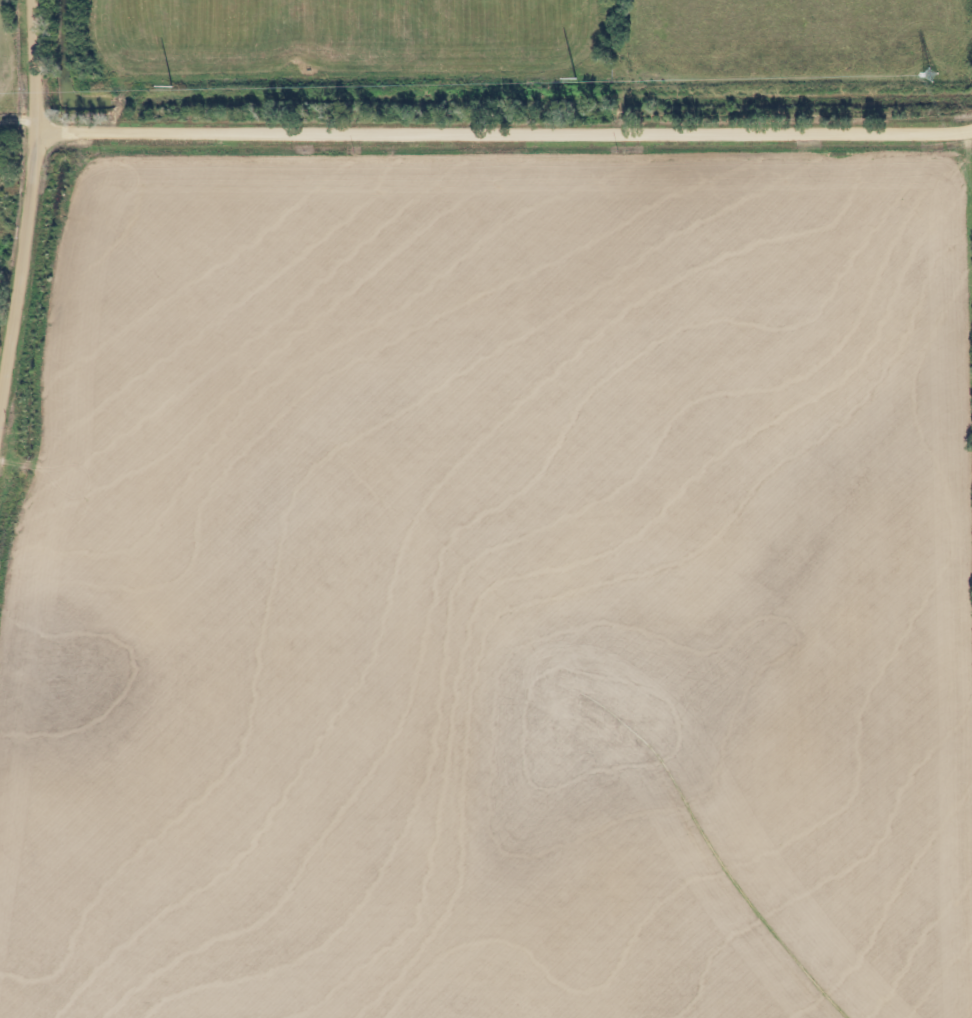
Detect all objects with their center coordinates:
power tower: (930, 75)
road: (19, 128)
road: (505, 132)
road: (28, 210)

